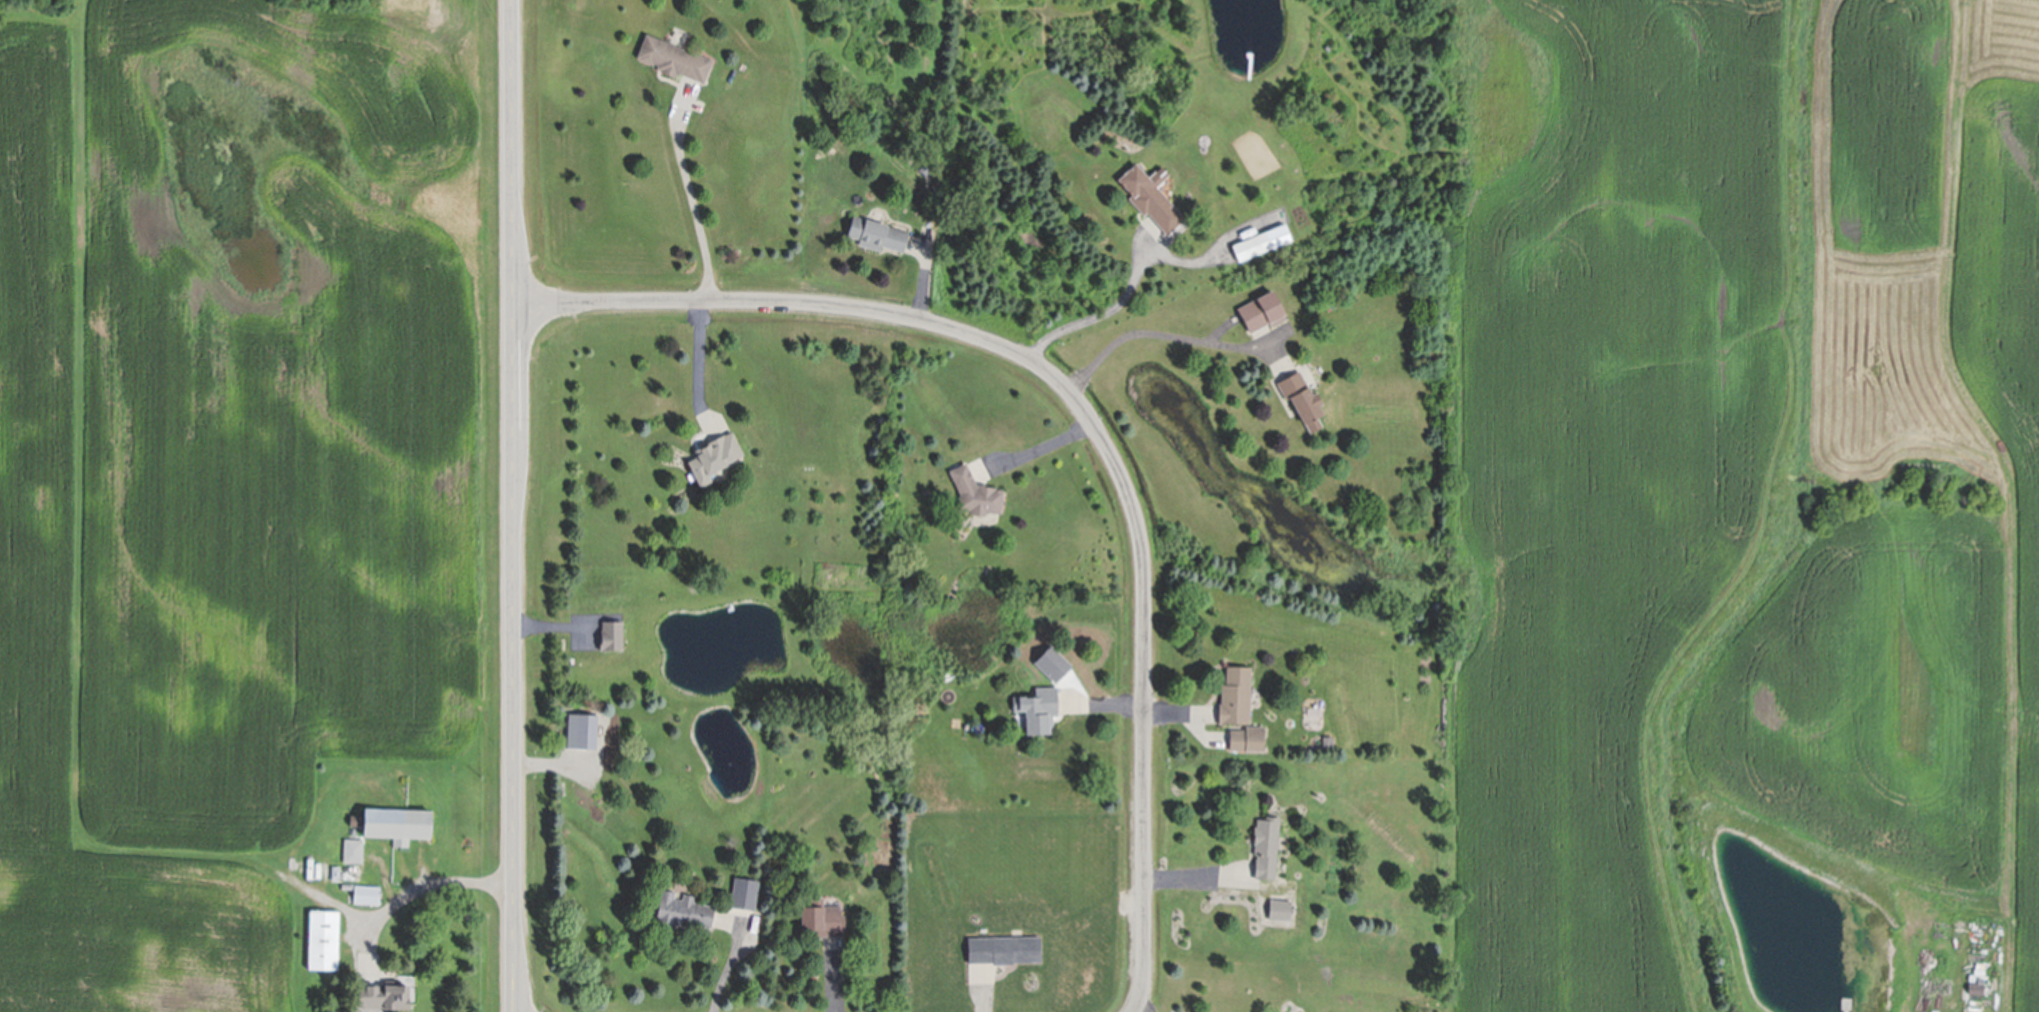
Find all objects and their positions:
building: (675, 63)
building: (925, 172)
building: (1151, 203)
road: (697, 211)
building: (878, 239)
building: (1262, 247)
road: (1093, 315)
building: (1261, 316)
road: (1129, 332)
road: (699, 358)
building: (1284, 365)
building: (1303, 402)
road: (1087, 420)
road: (1034, 448)
building: (713, 451)
building: (976, 486)
road: (514, 505)
building: (612, 631)
building: (1236, 691)
building: (1039, 704)
building: (1247, 735)
building: (1328, 738)
building: (395, 817)
building: (1267, 845)
building: (354, 848)
building: (336, 869)
road: (1216, 880)
road: (428, 885)
building: (745, 890)
building: (367, 891)
building: (683, 908)
building: (1281, 908)
building: (823, 915)
building: (324, 935)
building: (1005, 947)
road: (729, 957)
building: (2013, 957)
building: (1979, 958)
building: (1976, 984)
building: (384, 990)
road: (1143, 1007)

